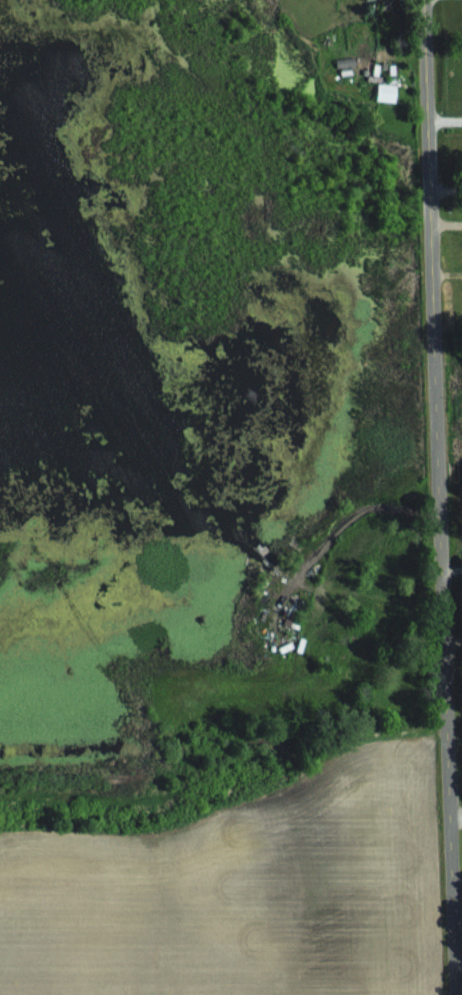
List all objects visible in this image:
building: (348, 62)
building: (389, 92)
road: (448, 221)
road: (449, 270)
road: (442, 497)
road: (453, 567)

